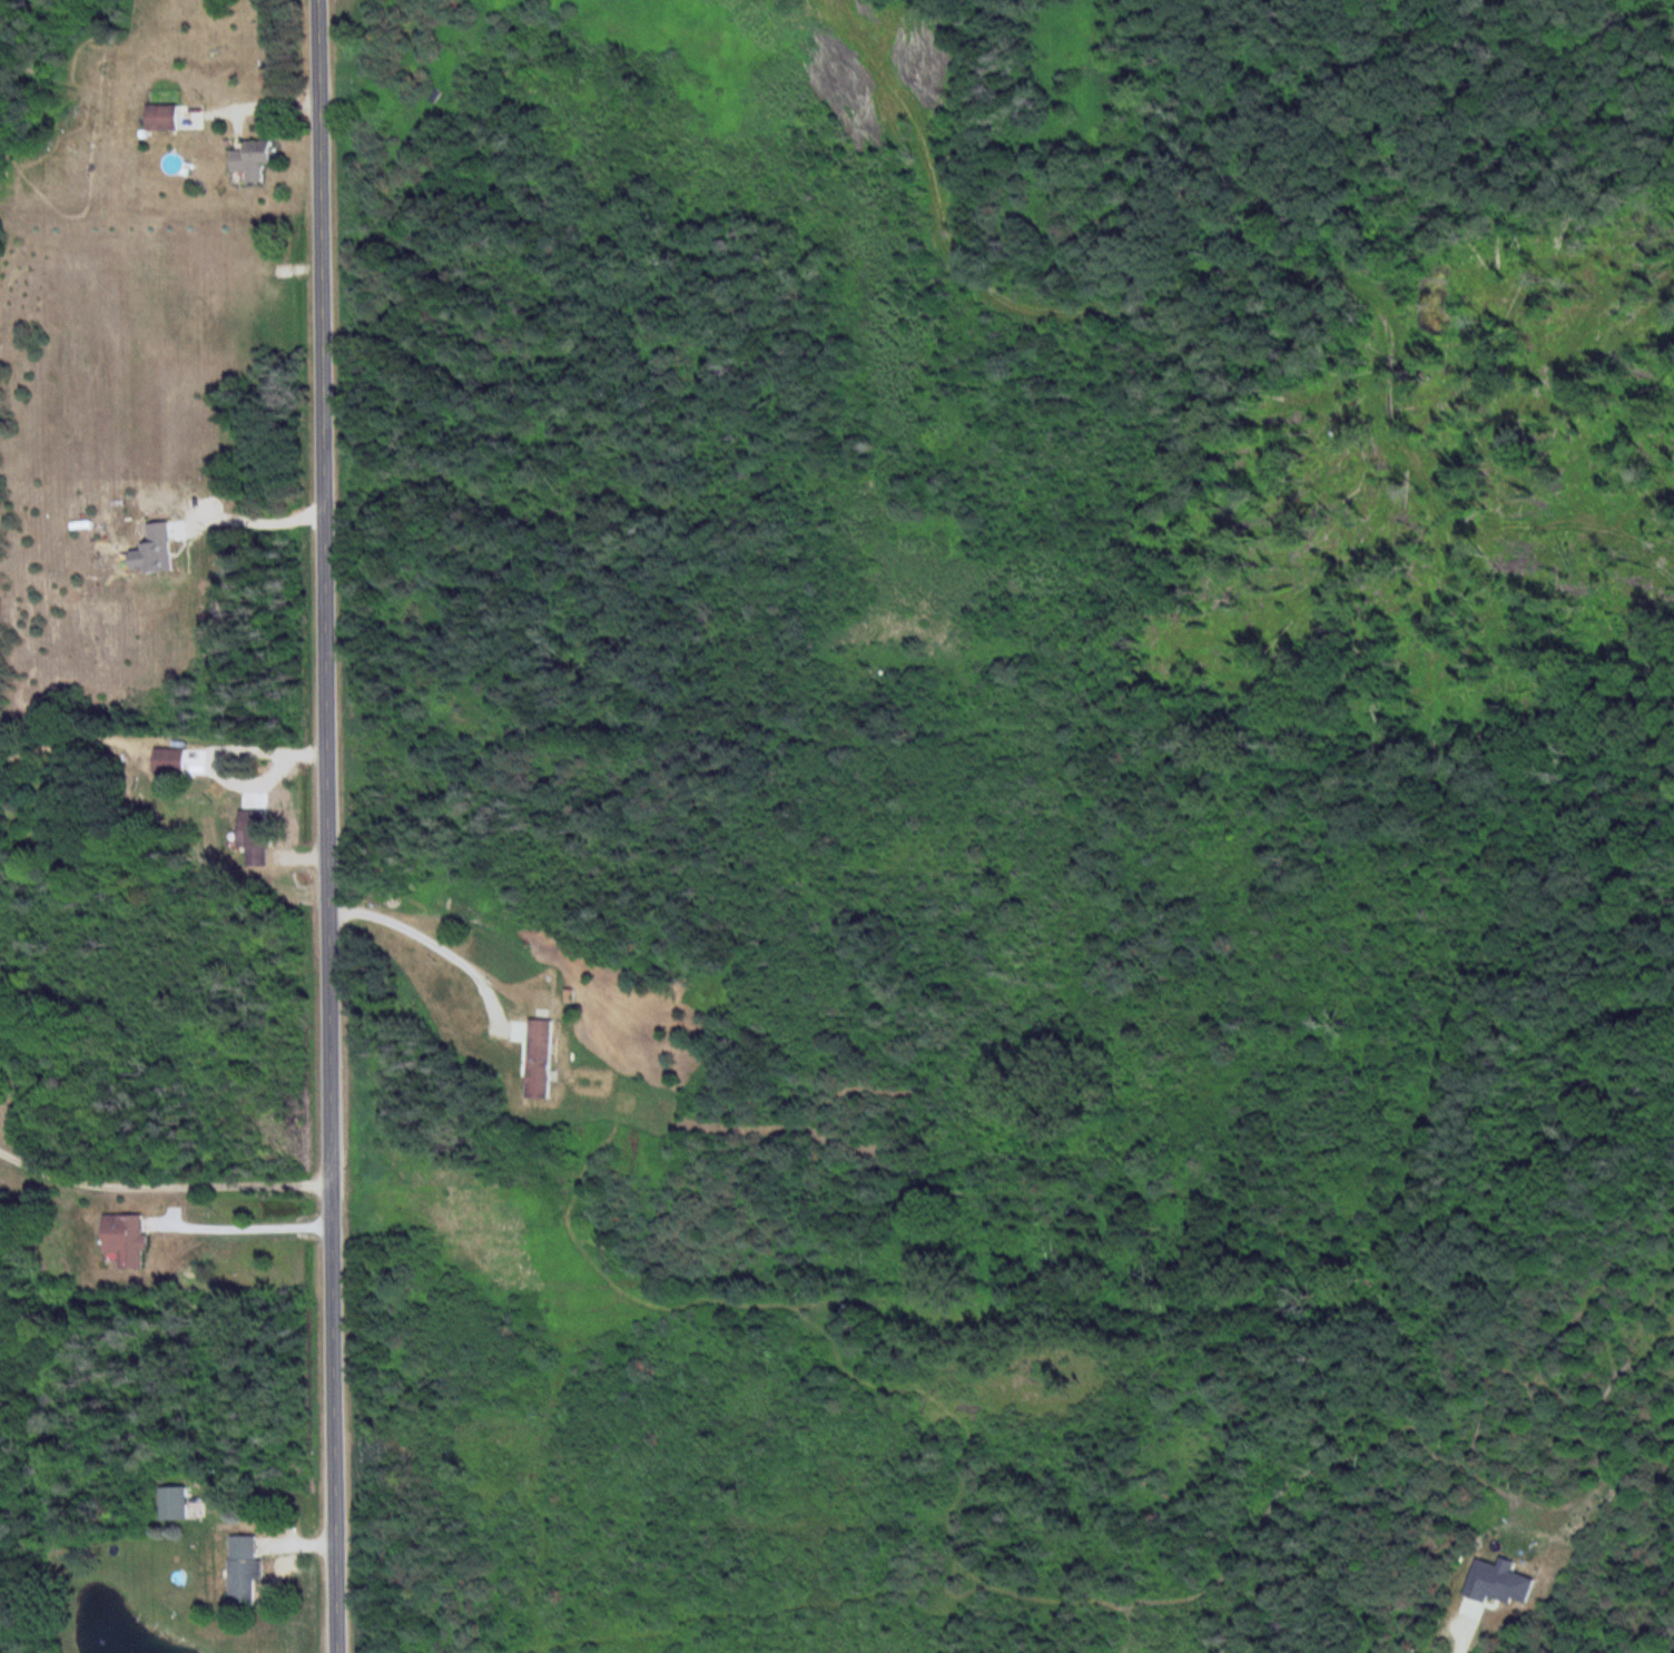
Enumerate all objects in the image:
building: (168, 119)
building: (256, 160)
building: (174, 761)
road: (327, 826)
building: (258, 846)
road: (436, 939)
building: (542, 1059)
road: (170, 1183)
building: (131, 1240)
building: (177, 1505)
building: (246, 1571)

